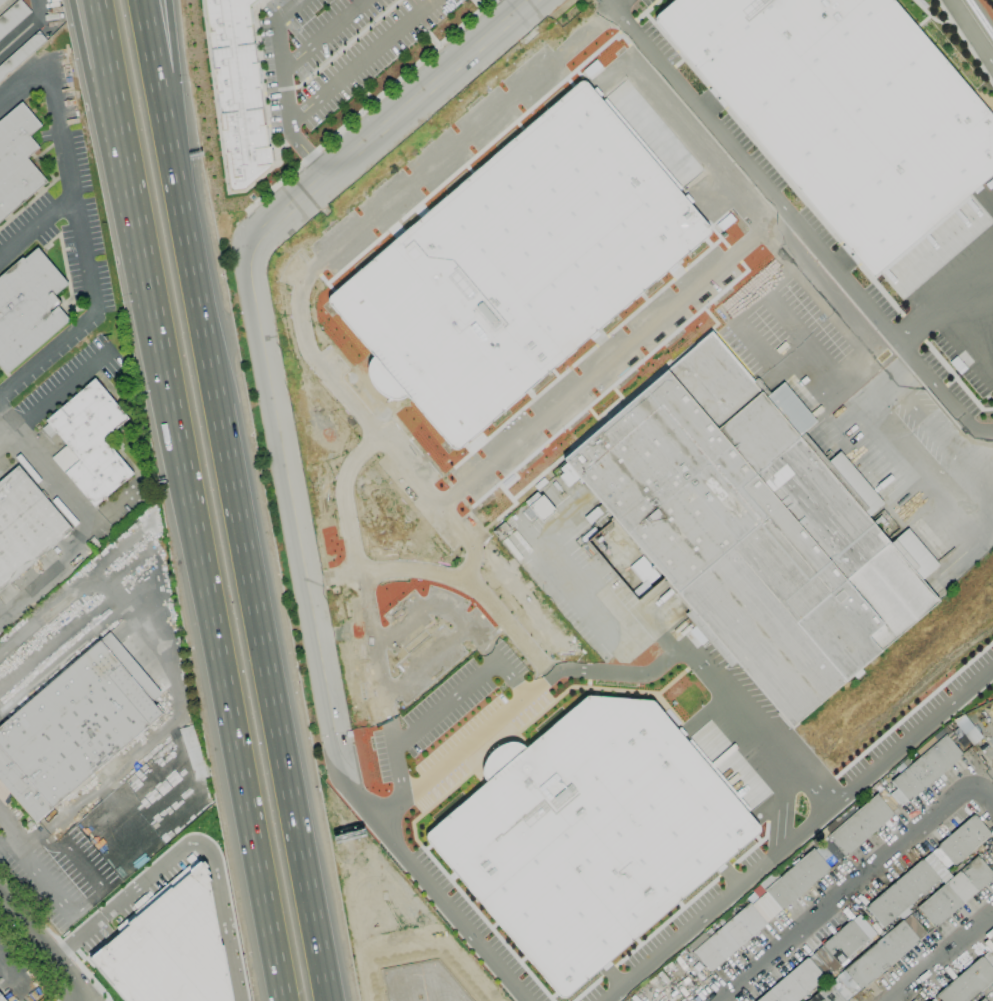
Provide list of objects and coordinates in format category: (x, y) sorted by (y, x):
building: (1, 1)
road: (616, 4)
road: (624, 4)
road: (40, 7)
building: (12, 17)
road: (974, 29)
road: (21, 32)
road: (323, 35)
road: (345, 44)
parking lot: (331, 50)
building: (21, 54)
road: (360, 61)
road: (24, 81)
road: (283, 88)
road: (285, 88)
road: (112, 91)
building: (238, 92)
road: (92, 93)
building: (841, 110)
road: (471, 135)
road: (165, 140)
road: (181, 140)
building: (17, 159)
road: (71, 187)
road: (802, 226)
road: (36, 227)
road: (140, 243)
building: (523, 264)
road: (702, 285)
road: (942, 305)
building: (28, 308)
road: (735, 318)
road: (792, 322)
road: (856, 329)
road: (259, 333)
road: (46, 354)
road: (890, 382)
road: (62, 391)
road: (8, 420)
road: (371, 428)
road: (8, 437)
building: (89, 442)
road: (948, 470)
road: (69, 492)
road: (349, 501)
building: (538, 510)
building: (25, 525)
building: (753, 528)
road: (448, 578)
road: (35, 586)
road: (68, 598)
road: (469, 626)
road: (57, 641)
road: (259, 641)
road: (484, 644)
road: (218, 651)
road: (693, 657)
road: (385, 685)
road: (462, 690)
road: (516, 701)
building: (74, 726)
road: (913, 735)
road: (144, 745)
building: (926, 768)
road: (983, 799)
building: (857, 828)
road: (12, 829)
building: (586, 834)
road: (7, 841)
building: (961, 842)
road: (46, 882)
building: (955, 892)
road: (437, 893)
building: (902, 893)
road: (848, 895)
road: (122, 899)
road: (719, 902)
building: (758, 910)
road: (223, 914)
road: (53, 937)
road: (418, 940)
road: (45, 944)
building: (168, 946)
building: (841, 946)
building: (881, 955)
road: (940, 956)
road: (9, 971)
building: (969, 981)
building: (417, 982)
building: (794, 983)
building: (827, 994)
building: (2, 998)
road: (58, 998)
building: (983, 1000)

